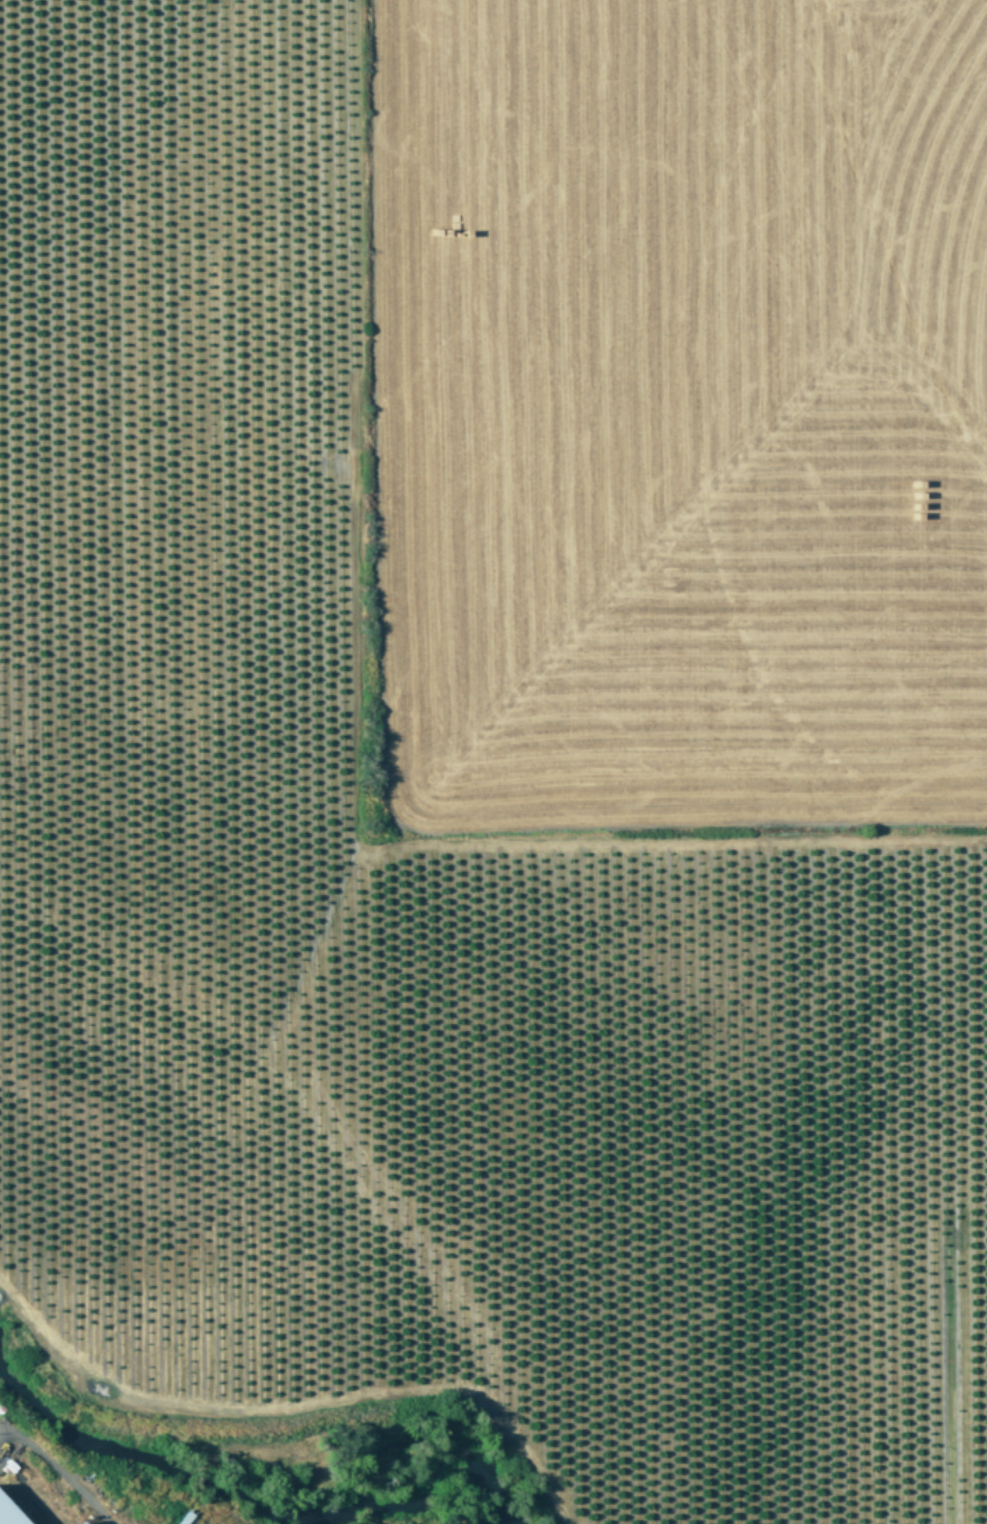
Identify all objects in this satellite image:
crop: (507, 727)
crop: (39, 1487)
building: (8, 1515)

